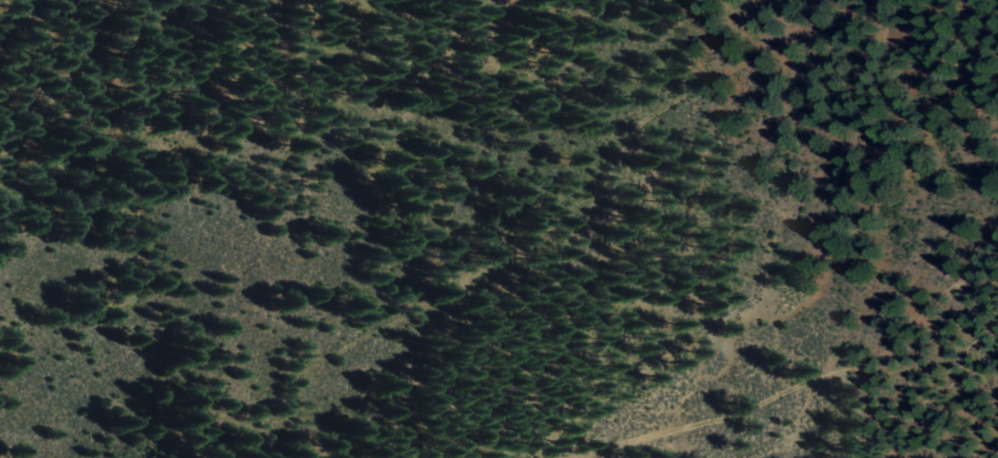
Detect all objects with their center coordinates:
road: (891, 283)

